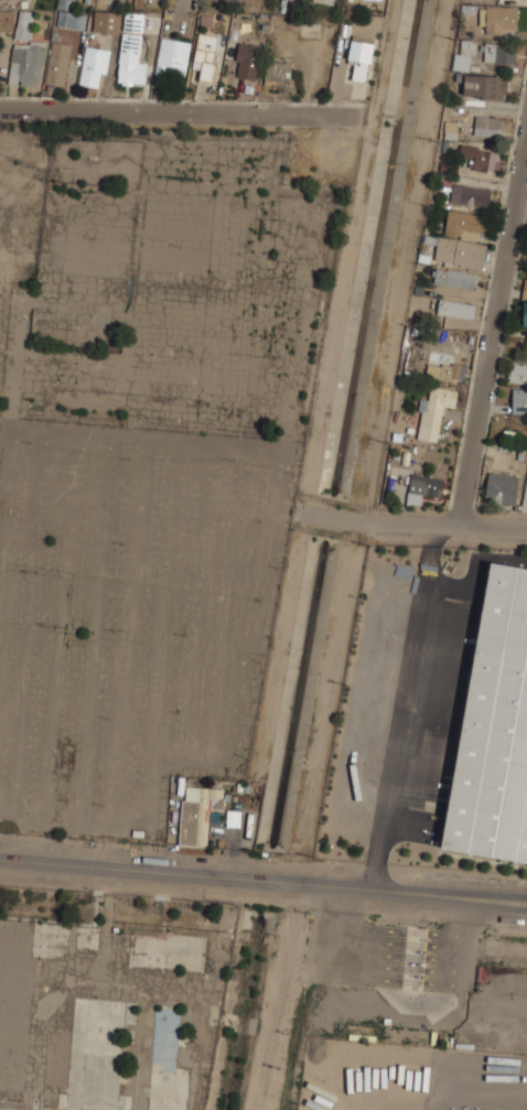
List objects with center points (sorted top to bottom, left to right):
building: (325, 1)
building: (69, 15)
building: (501, 20)
building: (125, 42)
building: (470, 45)
building: (23, 47)
building: (498, 52)
building: (206, 54)
building: (361, 56)
building: (172, 57)
building: (246, 60)
building: (57, 63)
building: (94, 66)
building: (277, 72)
building: (485, 86)
road: (179, 111)
building: (487, 126)
building: (450, 129)
building: (481, 159)
building: (470, 195)
building: (465, 223)
building: (460, 252)
building: (455, 278)
building: (525, 287)
building: (455, 308)
building: (525, 314)
road: (492, 333)
building: (526, 353)
building: (435, 371)
building: (518, 374)
building: (519, 401)
building: (433, 411)
building: (424, 487)
building: (502, 488)
building: (525, 497)
road: (415, 525)
building: (494, 729)
road: (394, 754)
building: (197, 813)
building: (233, 818)
road: (241, 877)
road: (505, 896)
road: (505, 906)

